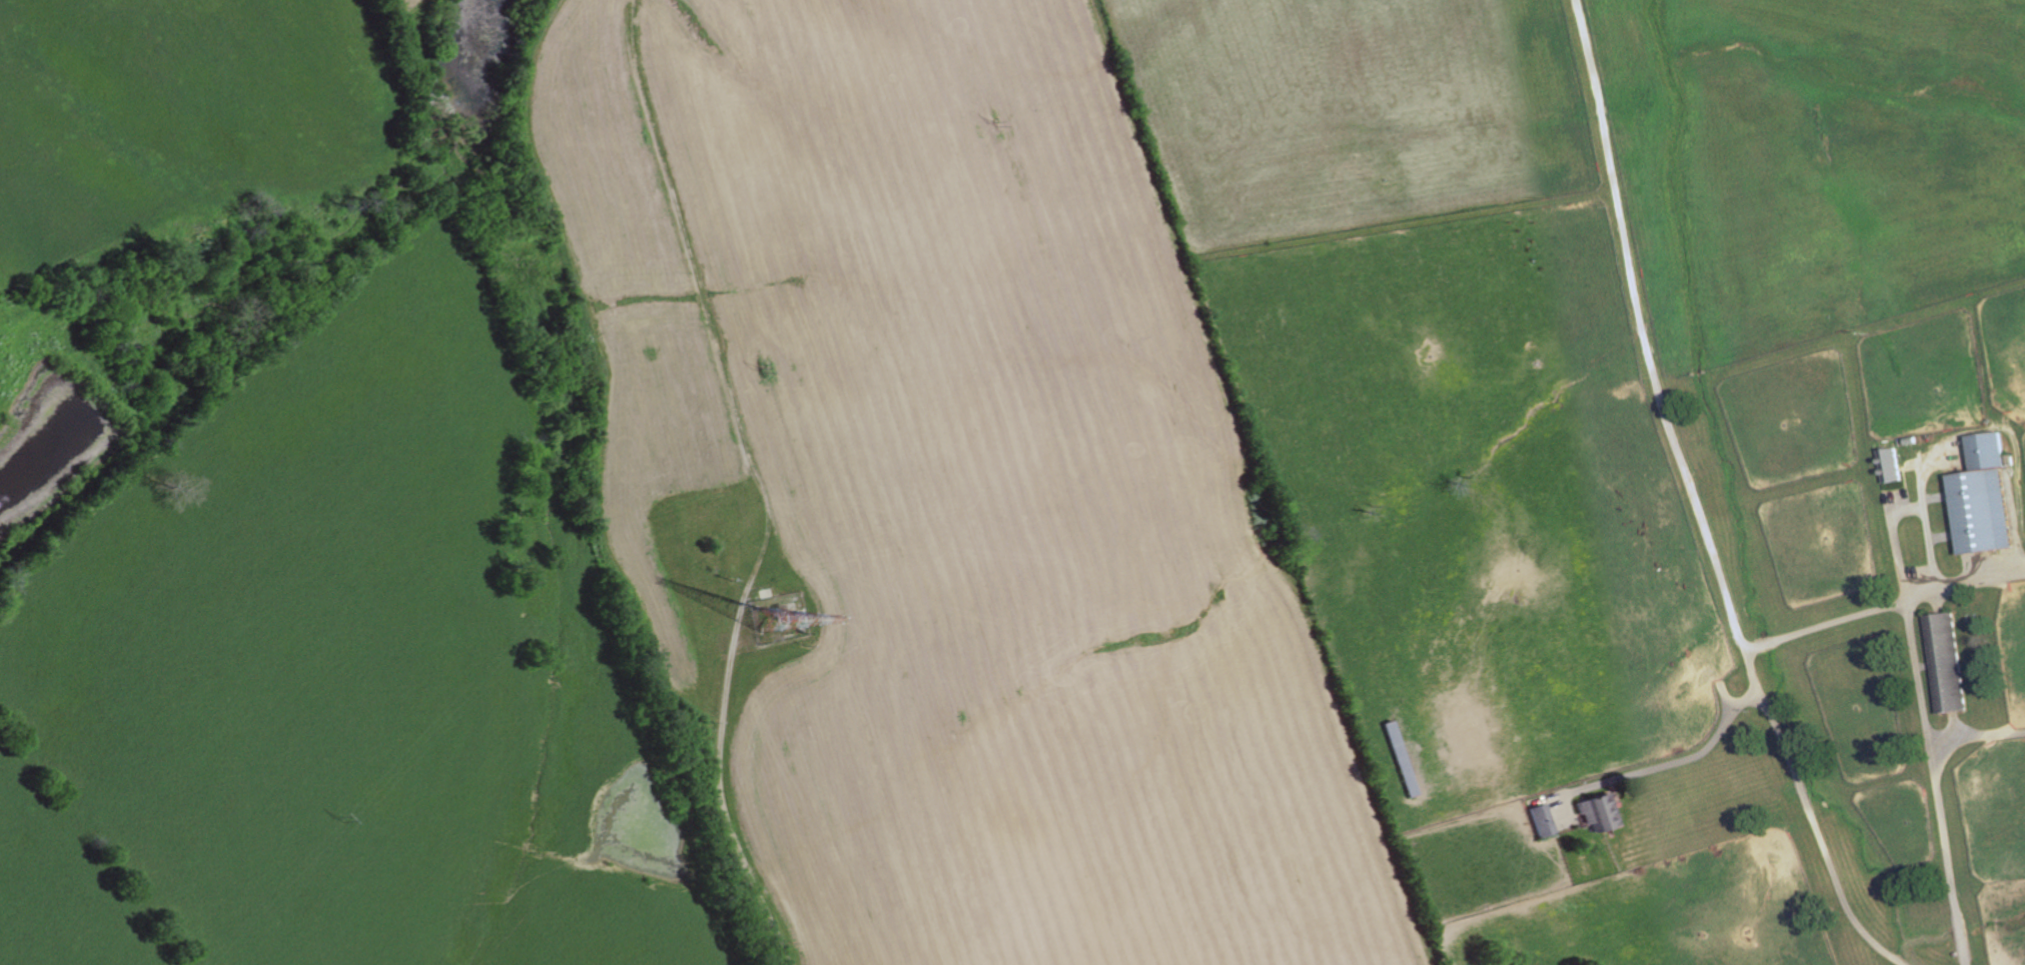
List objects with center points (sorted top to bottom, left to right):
building: (1891, 465)
building: (1984, 496)
road: (1693, 502)
road: (1899, 511)
road: (1882, 606)
road: (1918, 682)
road: (1660, 765)
building: (1600, 814)
road: (1938, 814)
building: (1543, 821)

